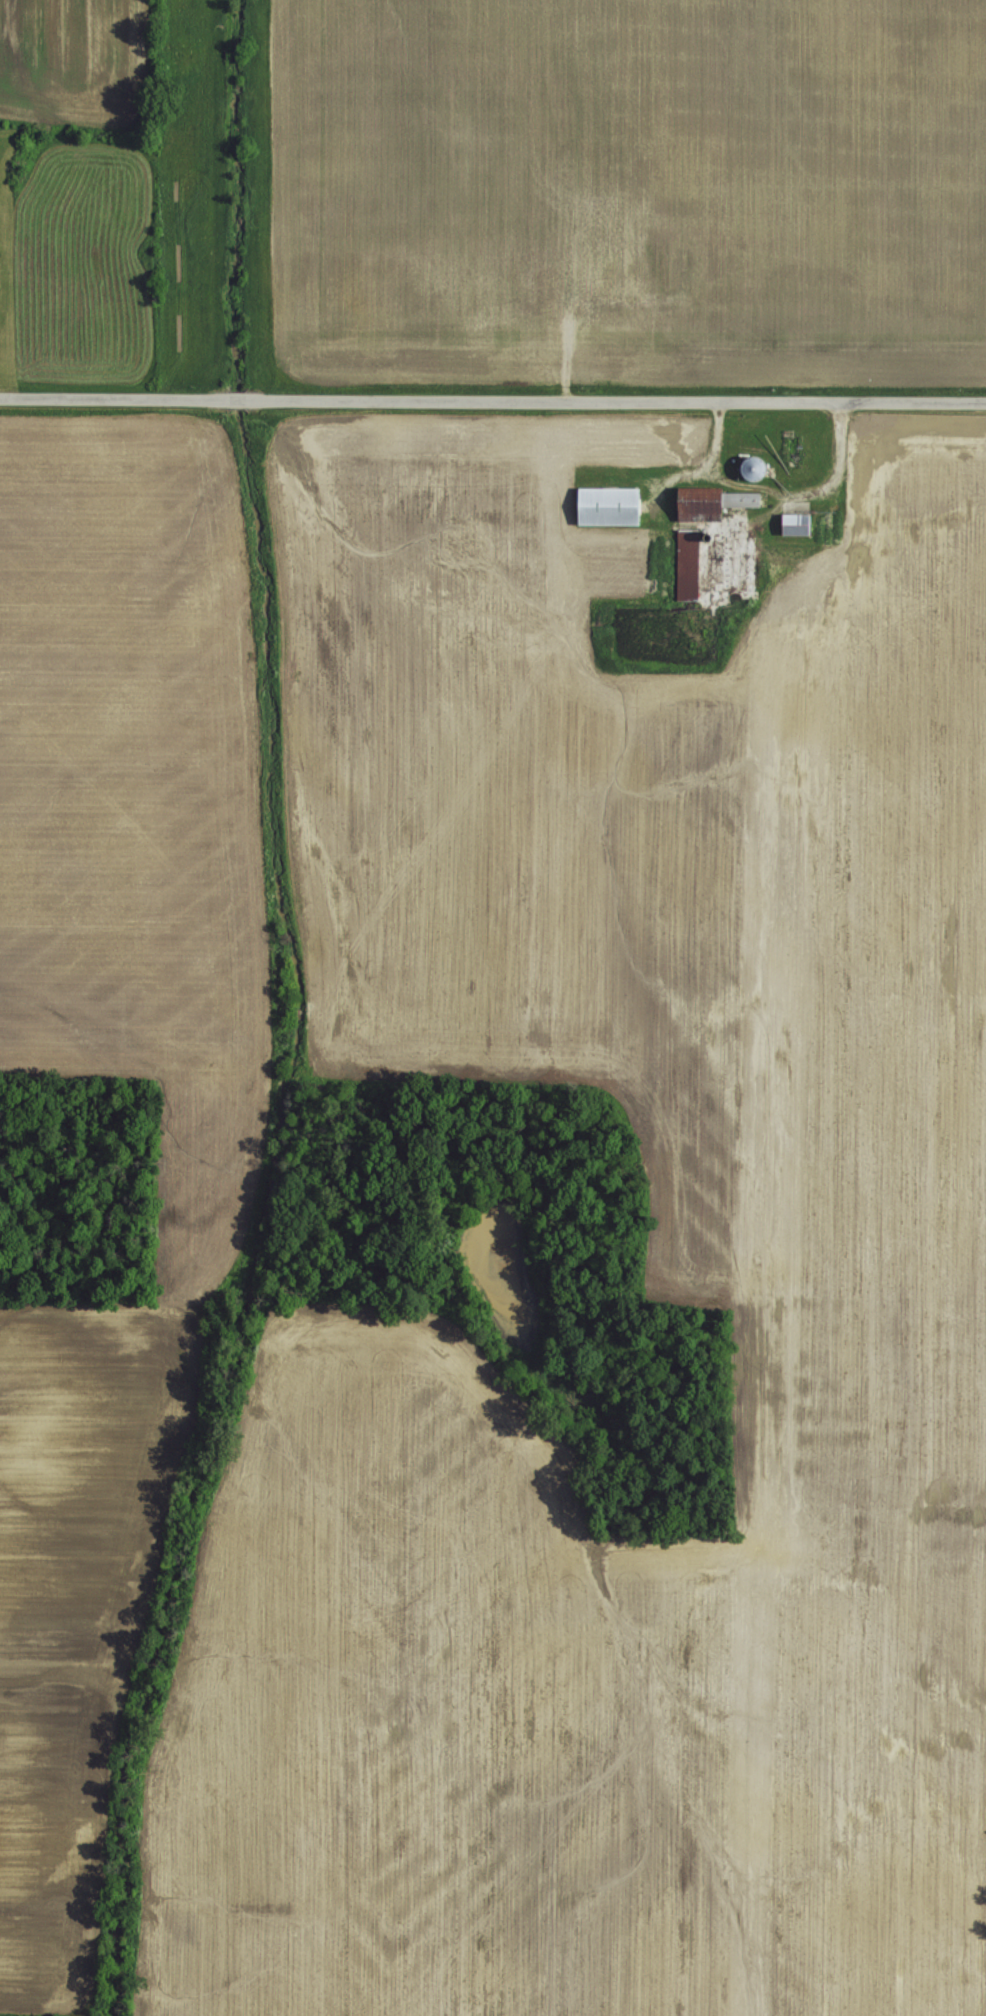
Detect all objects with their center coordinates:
road: (492, 391)
road: (837, 466)
building: (609, 503)
building: (796, 521)
building: (688, 561)

